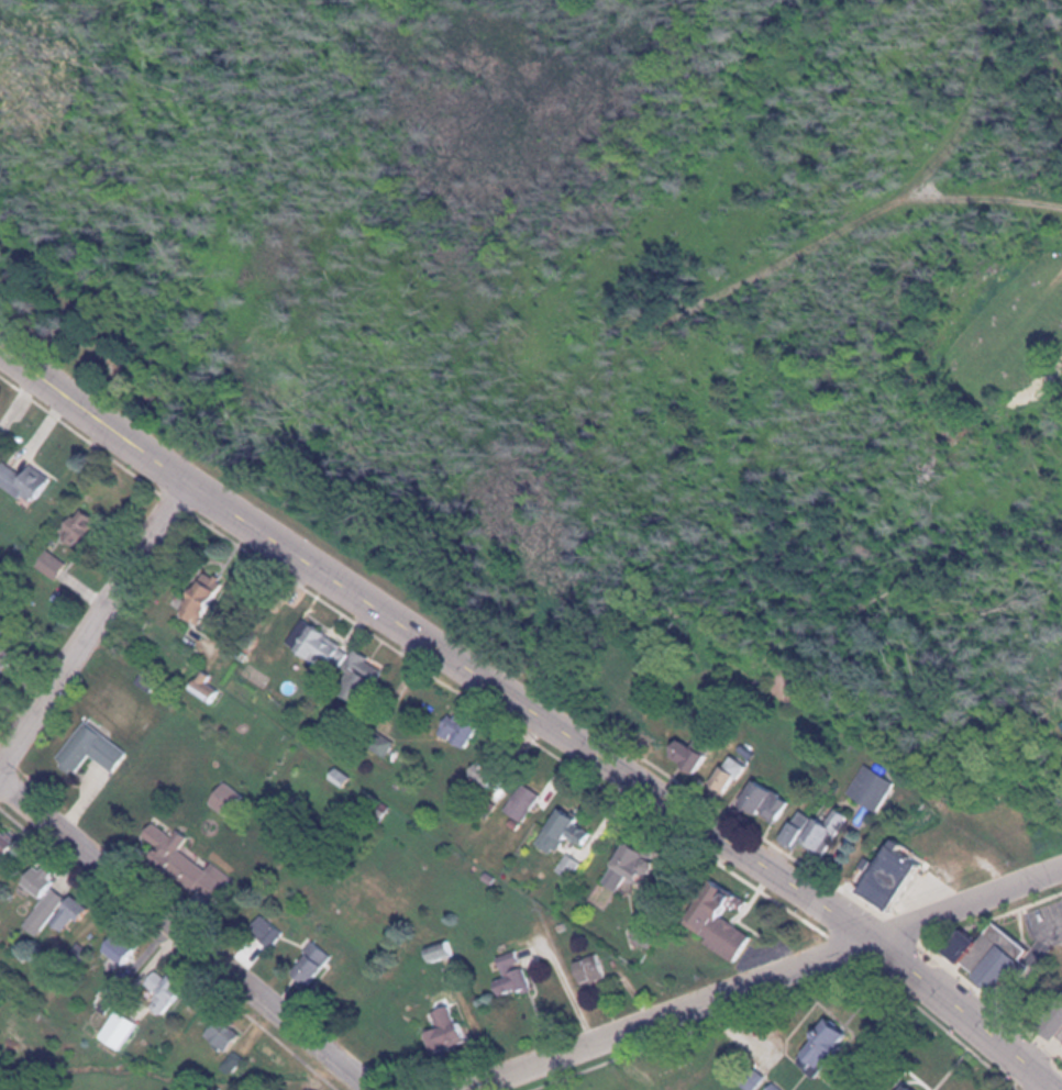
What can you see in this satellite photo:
park: (954, 199)
building: (0, 438)
building: (32, 480)
building: (96, 521)
building: (215, 598)
road: (97, 626)
building: (316, 648)
building: (12, 652)
building: (366, 687)
road: (533, 709)
building: (101, 747)
building: (723, 779)
building: (872, 789)
building: (235, 799)
building: (522, 803)
building: (761, 804)
building: (562, 833)
building: (814, 833)
building: (177, 843)
building: (11, 846)
building: (568, 867)
building: (624, 871)
building: (883, 878)
building: (51, 899)
building: (82, 911)
building: (717, 920)
road: (186, 932)
building: (130, 947)
building: (449, 949)
building: (987, 956)
building: (321, 960)
building: (597, 971)
building: (519, 972)
road: (754, 979)
building: (176, 987)
building: (1054, 1021)
building: (126, 1027)
building: (234, 1032)
building: (455, 1032)
building: (839, 1043)
road: (1049, 1086)
building: (783, 1087)
building: (912, 1087)
building: (51, 1089)

